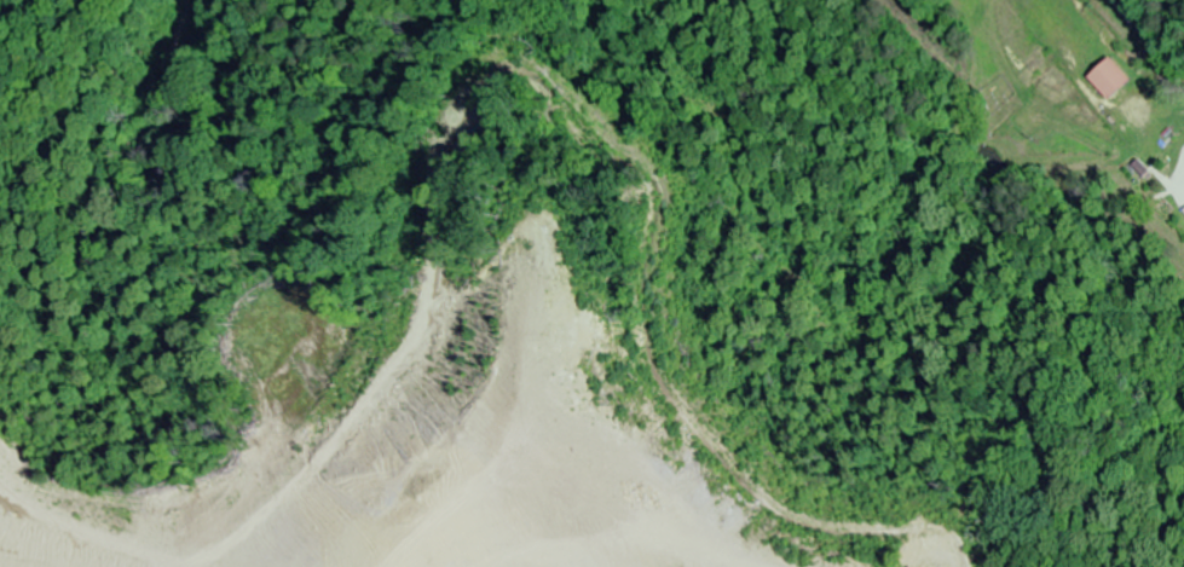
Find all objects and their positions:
road: (1145, 37)
building: (1107, 80)

